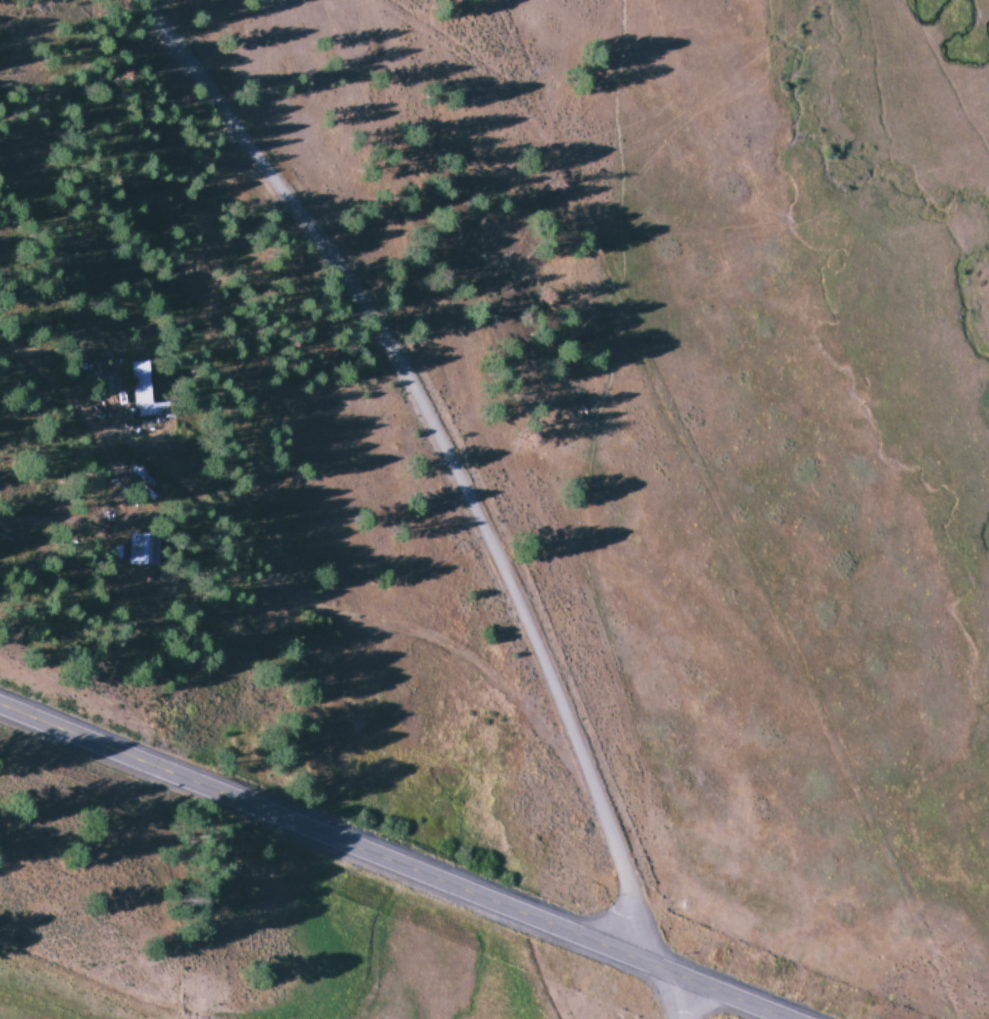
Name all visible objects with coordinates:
road: (475, 453)
road: (397, 862)
road: (672, 993)

